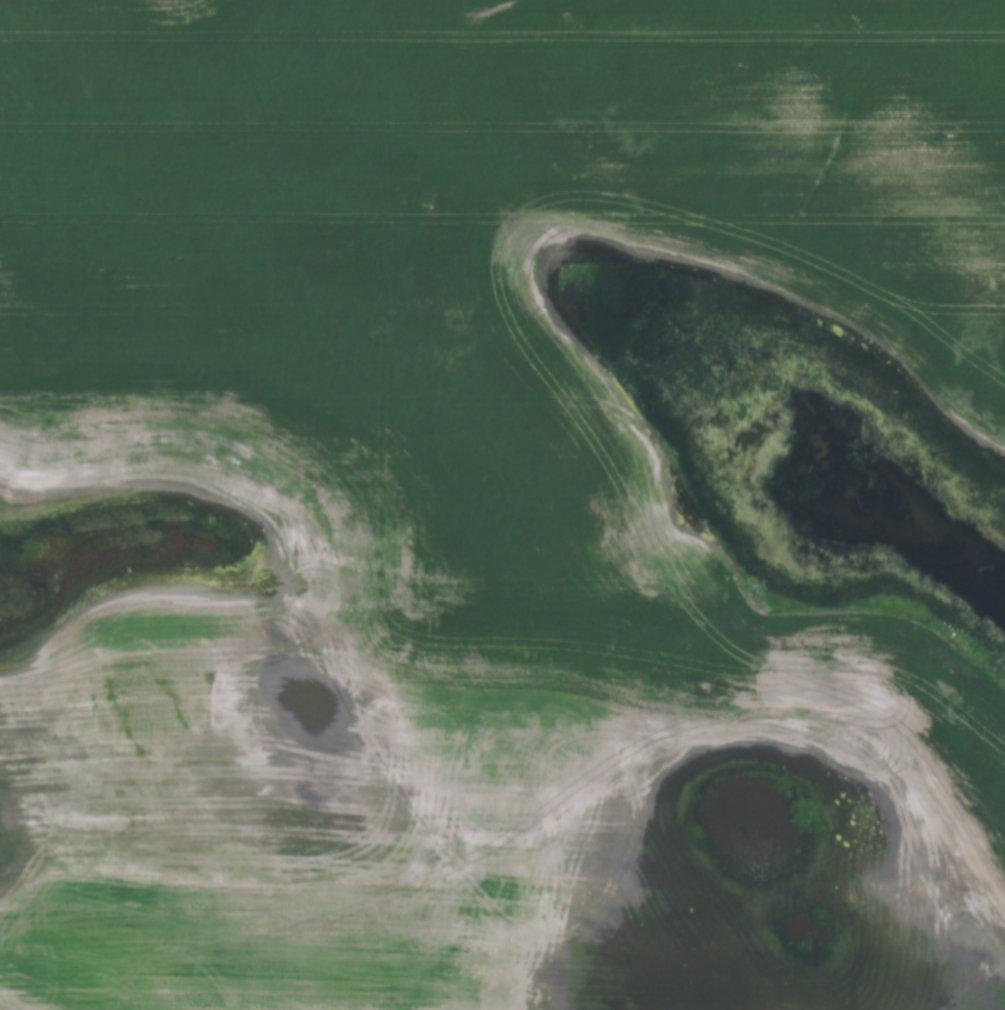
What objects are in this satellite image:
crop: (439, 286)

